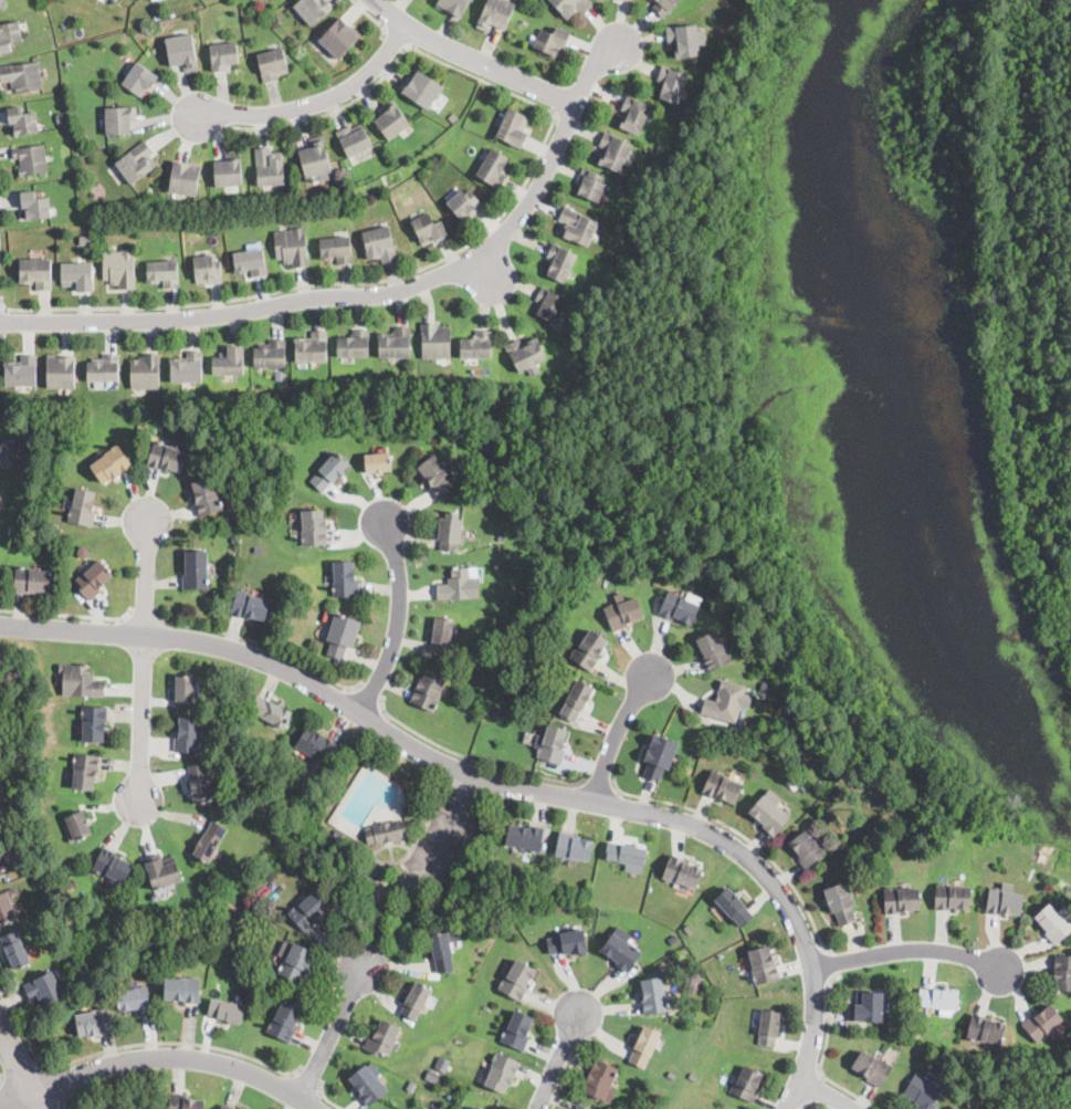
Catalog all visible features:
building: (653, 0)
building: (2, 3)
building: (453, 6)
building: (571, 6)
building: (664, 6)
building: (313, 9)
building: (495, 13)
building: (157, 15)
road: (374, 18)
building: (9, 34)
building: (339, 38)
building: (684, 39)
building: (550, 40)
road: (393, 41)
building: (182, 52)
building: (223, 55)
road: (468, 61)
building: (272, 64)
building: (22, 76)
building: (139, 80)
building: (671, 84)
building: (422, 88)
building: (510, 100)
road: (308, 103)
building: (634, 114)
building: (453, 116)
building: (60, 117)
building: (119, 119)
building: (391, 119)
building: (22, 122)
building: (513, 128)
building: (354, 139)
building: (613, 151)
building: (314, 157)
building: (31, 160)
building: (136, 161)
building: (269, 167)
building: (493, 169)
building: (229, 170)
building: (185, 178)
building: (590, 185)
building: (465, 205)
building: (34, 206)
building: (193, 227)
building: (577, 227)
building: (428, 229)
road: (487, 230)
building: (85, 239)
building: (379, 244)
building: (292, 247)
building: (336, 249)
building: (250, 262)
building: (560, 262)
building: (119, 268)
road: (489, 268)
building: (207, 270)
building: (36, 273)
building: (162, 273)
building: (77, 275)
road: (375, 292)
building: (548, 304)
road: (1, 306)
road: (2, 320)
road: (2, 336)
building: (434, 342)
building: (354, 344)
building: (395, 344)
building: (477, 345)
building: (312, 347)
building: (525, 354)
building: (270, 355)
building: (229, 362)
building: (103, 368)
building: (187, 368)
building: (21, 372)
building: (61, 372)
building: (144, 372)
building: (279, 374)
building: (279, 385)
park: (876, 415)
building: (237, 437)
building: (45, 447)
building: (64, 450)
building: (9, 451)
building: (166, 457)
building: (379, 461)
building: (112, 463)
building: (53, 470)
building: (329, 472)
building: (437, 474)
building: (208, 495)
building: (82, 506)
building: (313, 527)
building: (450, 531)
building: (235, 538)
building: (258, 550)
building: (83, 552)
building: (660, 563)
building: (196, 571)
building: (621, 574)
building: (94, 579)
building: (344, 579)
building: (31, 580)
building: (459, 585)
building: (249, 606)
building: (678, 607)
building: (623, 613)
road: (69, 615)
road: (144, 616)
road: (397, 619)
building: (285, 621)
building: (342, 635)
building: (442, 635)
road: (261, 644)
building: (588, 649)
building: (713, 651)
road: (143, 658)
building: (489, 660)
building: (80, 681)
building: (185, 687)
building: (766, 688)
building: (428, 690)
road: (370, 693)
building: (576, 700)
building: (725, 701)
building: (270, 711)
building: (495, 713)
building: (93, 723)
building: (187, 735)
road: (615, 736)
building: (553, 744)
building: (316, 746)
building: (660, 756)
road: (471, 758)
building: (85, 772)
building: (199, 783)
road: (502, 783)
road: (598, 785)
building: (722, 786)
road: (465, 795)
building: (304, 803)
building: (769, 816)
building: (77, 826)
building: (386, 831)
building: (338, 836)
road: (744, 836)
building: (525, 837)
building: (209, 841)
building: (574, 847)
building: (806, 849)
building: (855, 852)
building: (626, 854)
building: (113, 865)
building: (682, 872)
building: (2, 873)
building: (162, 873)
road: (414, 879)
building: (491, 879)
building: (72, 883)
building: (952, 897)
building: (902, 900)
building: (1005, 900)
building: (840, 902)
building: (7, 906)
building: (735, 907)
building: (548, 908)
building: (307, 910)
building: (489, 921)
building: (146, 922)
building: (1053, 923)
building: (687, 928)
building: (454, 938)
building: (673, 940)
building: (568, 943)
building: (620, 949)
building: (15, 950)
road: (905, 950)
building: (442, 952)
building: (473, 959)
building: (294, 961)
road: (832, 961)
building: (763, 965)
building: (1062, 972)
building: (250, 977)
building: (516, 979)
building: (75, 986)
building: (44, 990)
building: (183, 990)
building: (272, 994)
building: (654, 996)
building: (938, 997)
building: (134, 998)
building: (416, 1001)
building: (868, 1006)
building: (227, 1009)
building: (94, 1022)
building: (284, 1022)
building: (1042, 1023)
building: (769, 1028)
building: (987, 1029)
building: (518, 1030)
road: (330, 1032)
building: (382, 1038)
road: (130, 1044)
building: (644, 1046)
road: (162, 1054)
road: (822, 1054)
road: (557, 1060)
building: (439, 1066)
building: (873, 1068)
road: (21, 1069)
road: (20, 1071)
building: (501, 1073)
road: (567, 1073)
building: (693, 1075)
road: (1, 1076)
building: (672, 1076)
building: (433, 1077)
road: (308, 1078)
building: (600, 1079)
road: (54, 1084)
building: (747, 1084)
building: (369, 1085)
building: (411, 1085)
road: (817, 1089)
building: (923, 1091)
road: (826, 1096)
road: (326, 1097)
road: (66, 1100)
building: (183, 1101)
road: (808, 1105)
building: (227, 1107)
building: (581, 1107)
building: (103, 1108)
building: (475, 1108)
building: (953, 1108)

